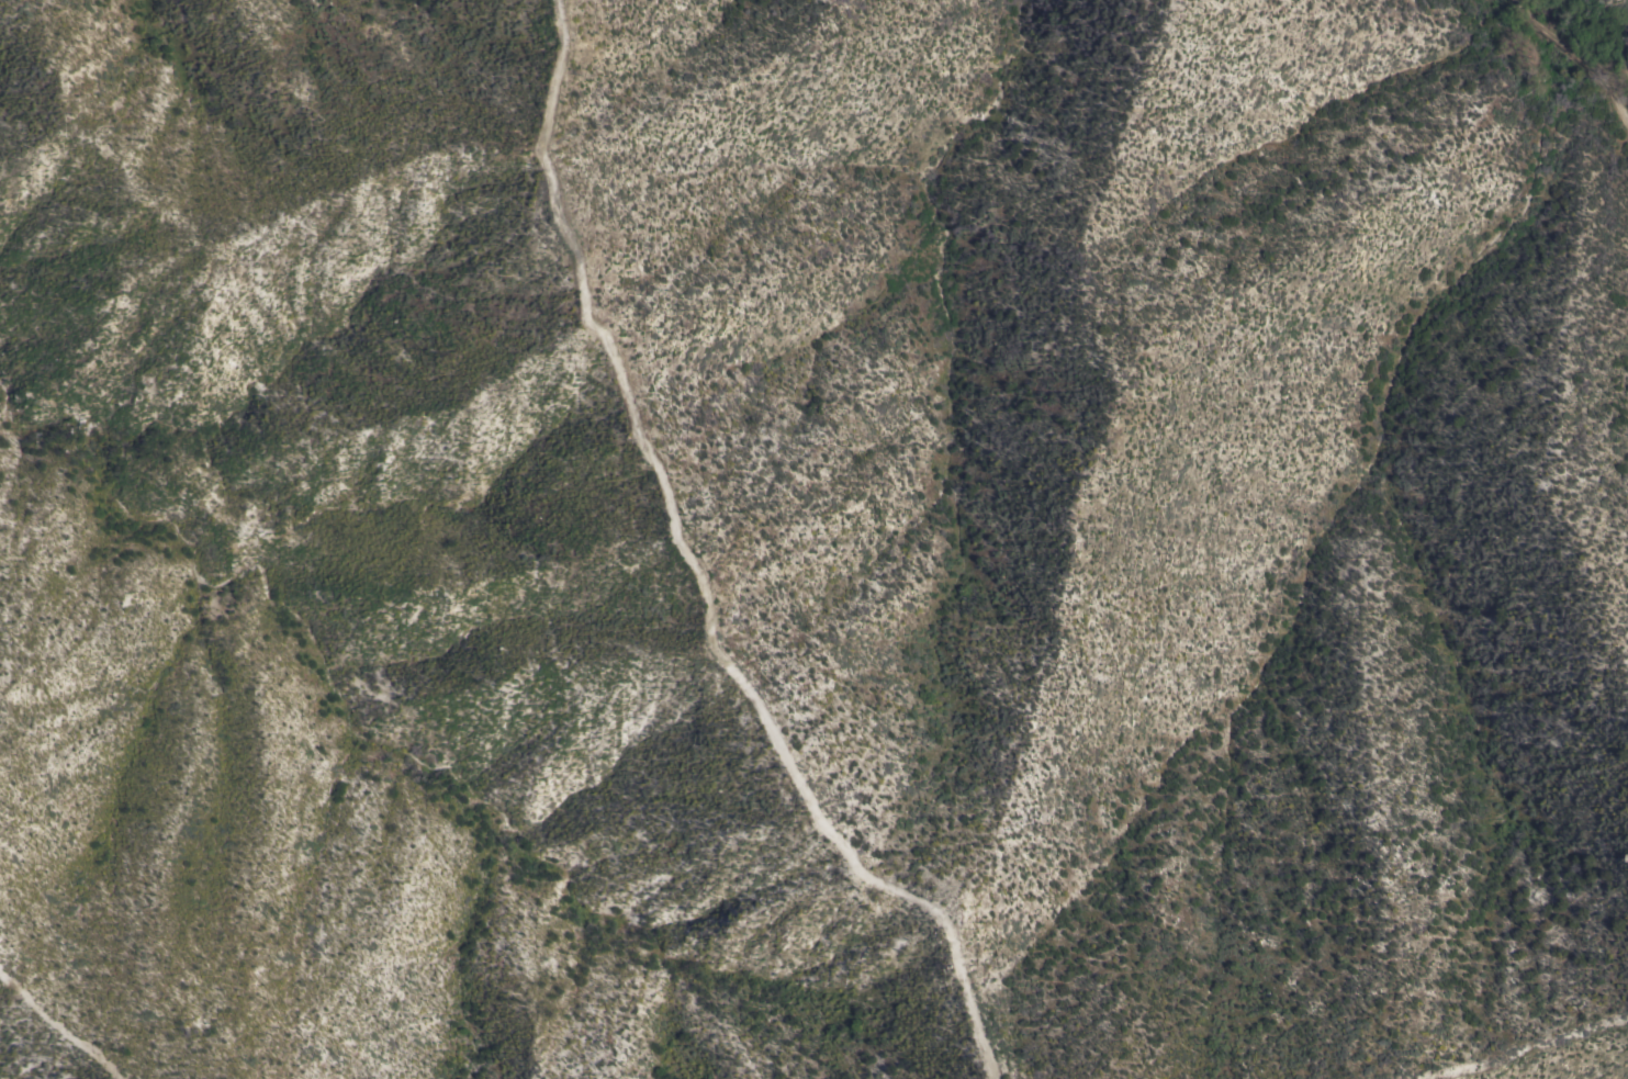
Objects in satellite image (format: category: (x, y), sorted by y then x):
road: (1578, 49)

